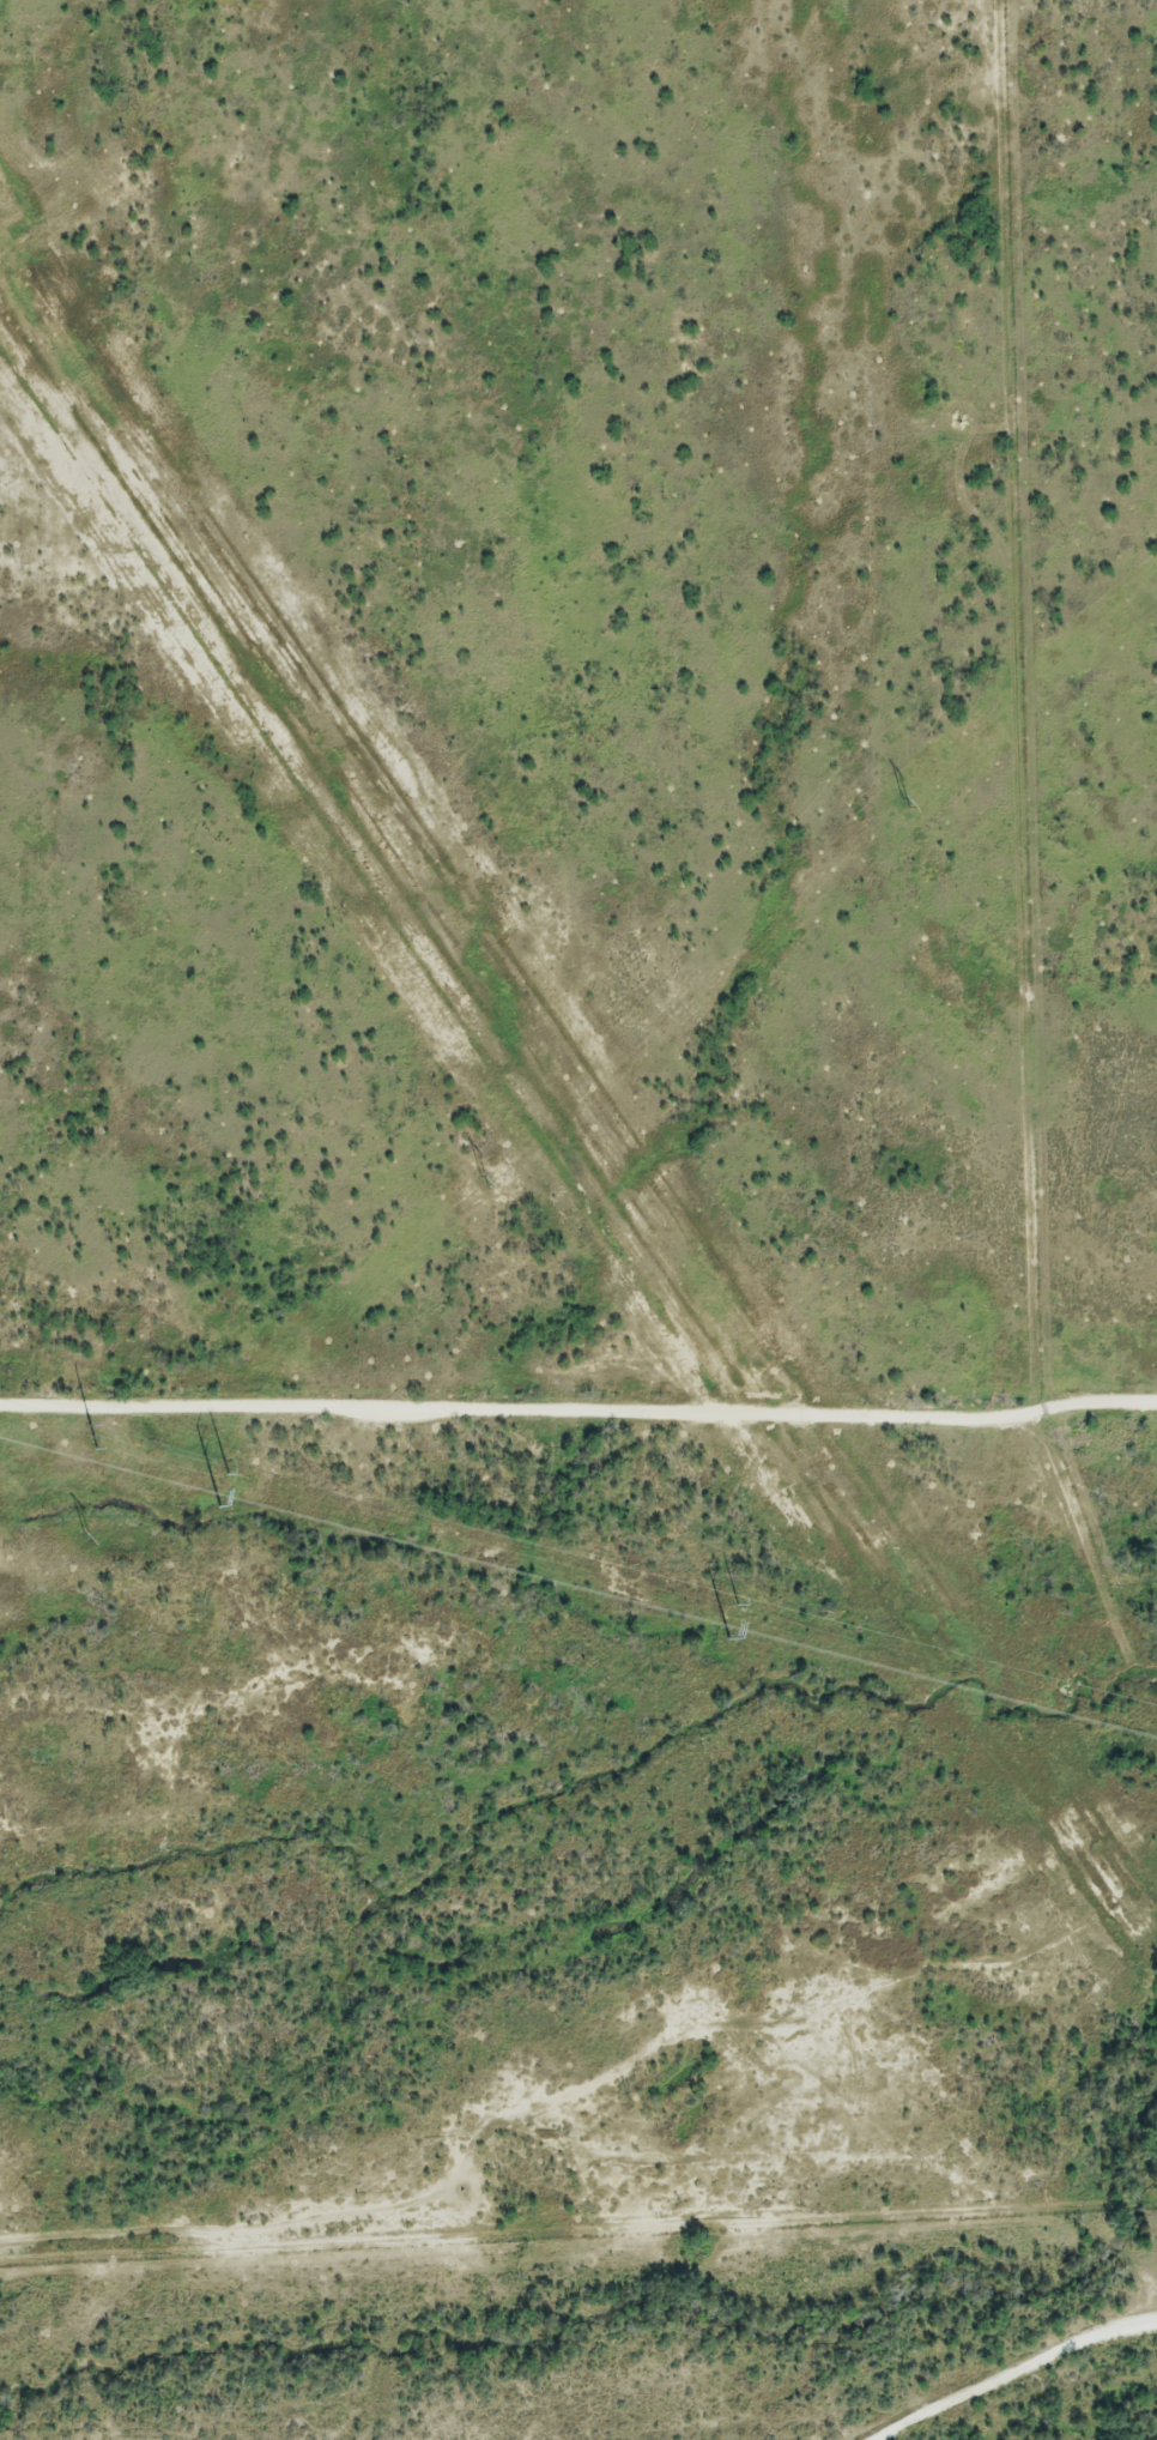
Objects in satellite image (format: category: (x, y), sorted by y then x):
power tower: (908, 802)
power tower: (485, 1179)
road: (578, 1411)
power tower: (97, 1443)
power tower: (230, 1474)
power tower: (222, 1505)
power tower: (86, 1538)
power tower: (739, 1607)
power tower: (728, 1641)
road: (1013, 2378)

